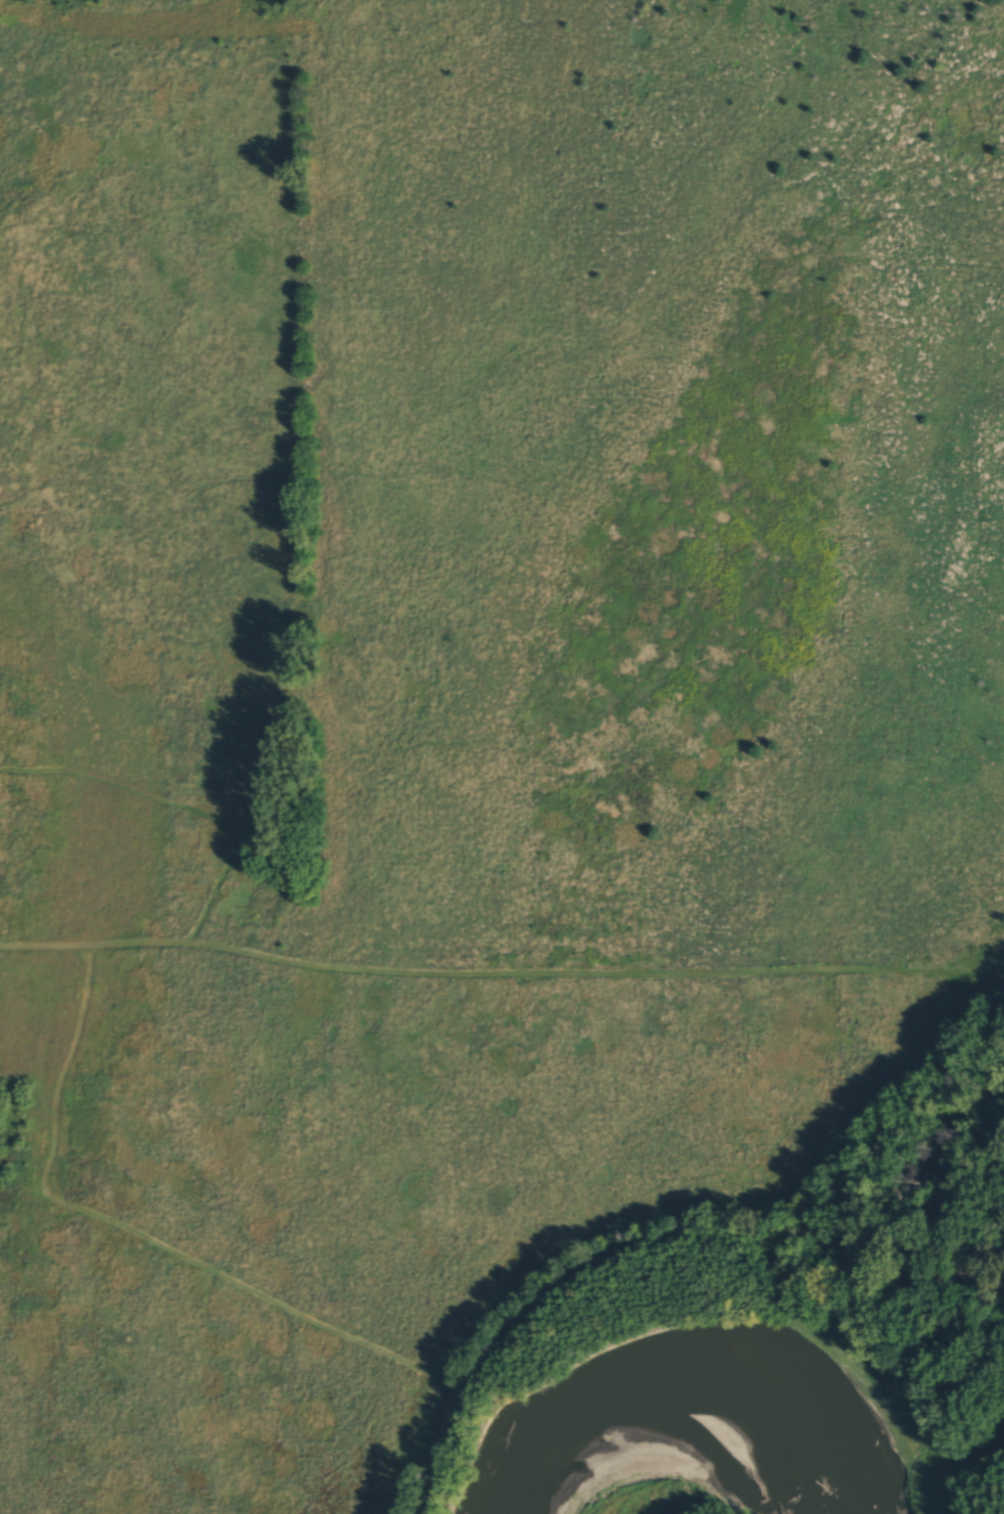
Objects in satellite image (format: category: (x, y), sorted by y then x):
river: (725, 1395)

